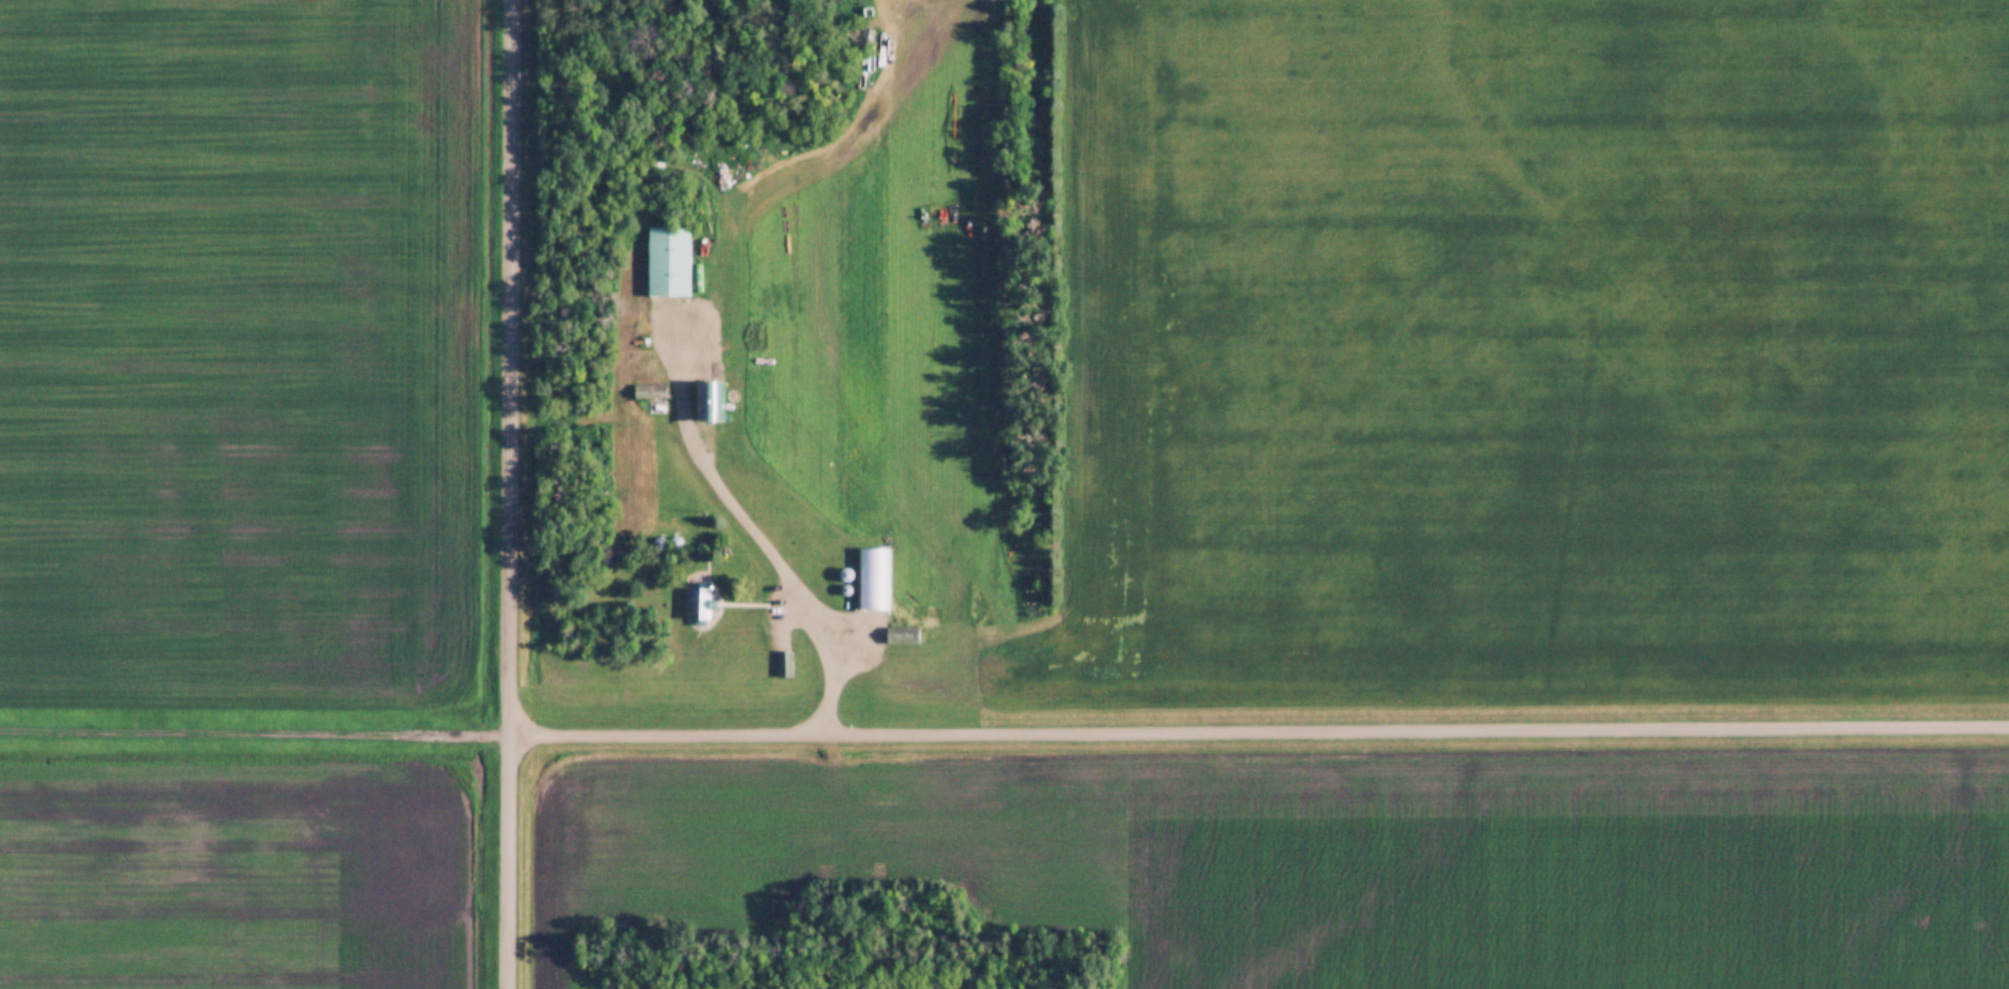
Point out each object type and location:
building: (683, 262)
road: (509, 494)
road: (750, 518)
road: (1257, 731)
road: (253, 736)

